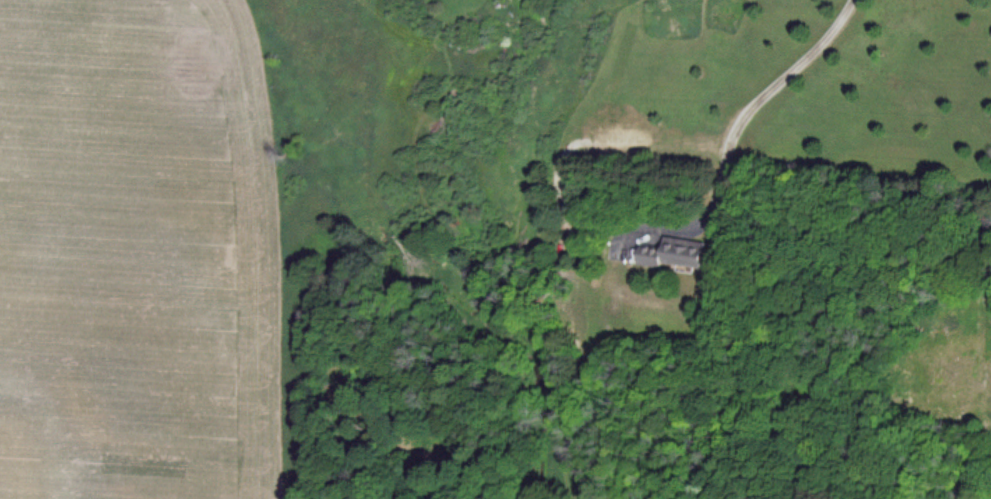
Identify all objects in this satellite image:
building: (673, 253)

